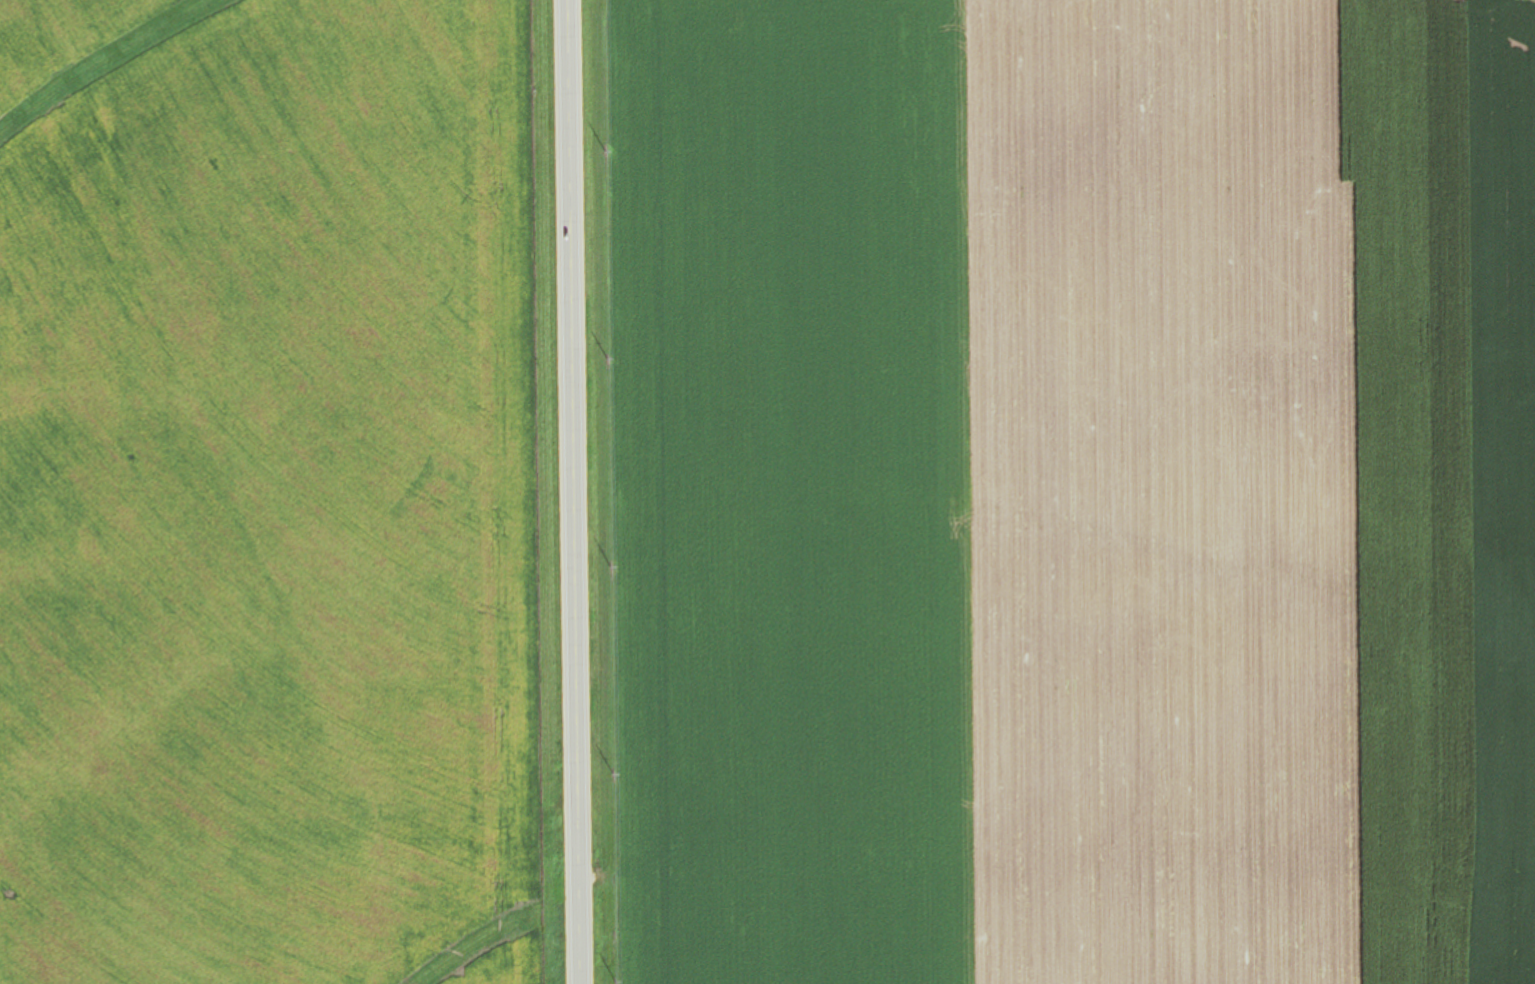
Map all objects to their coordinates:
road: (575, 492)

